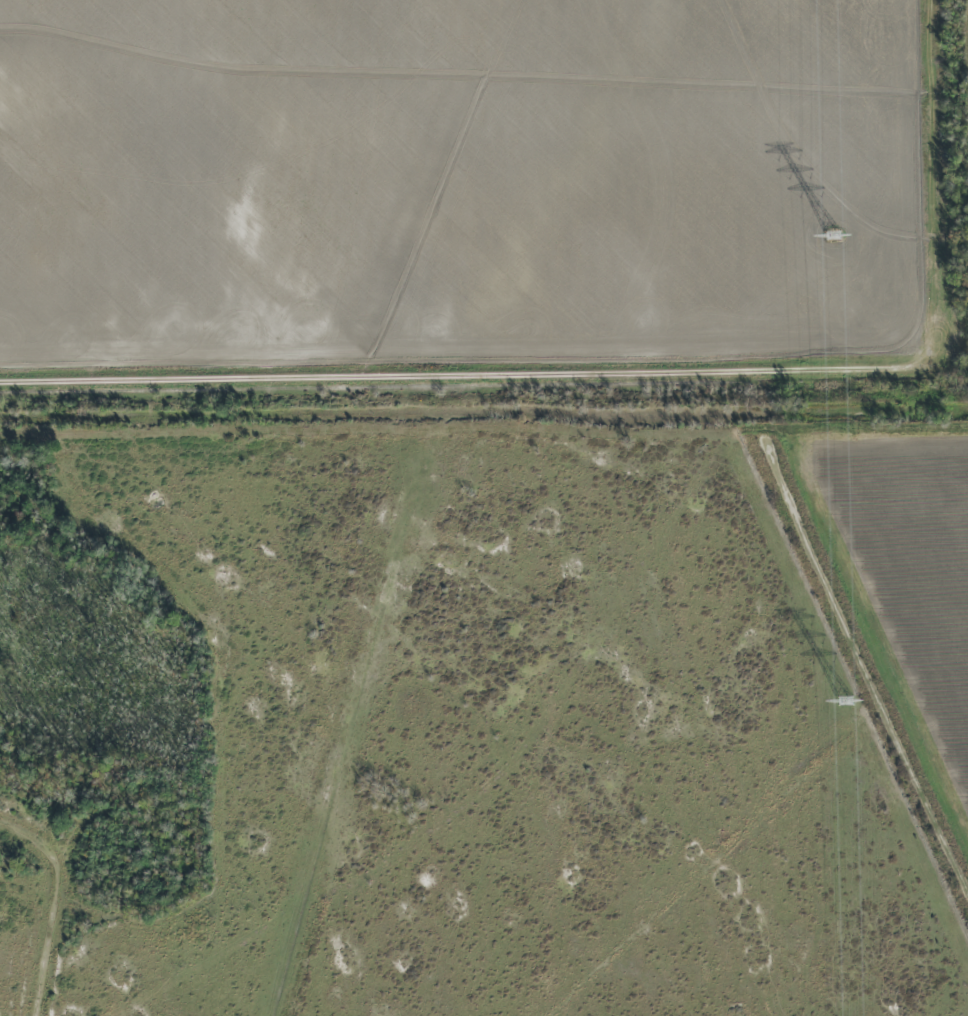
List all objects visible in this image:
power tower: (834, 235)
road: (483, 379)
power tower: (847, 702)
road: (60, 904)

